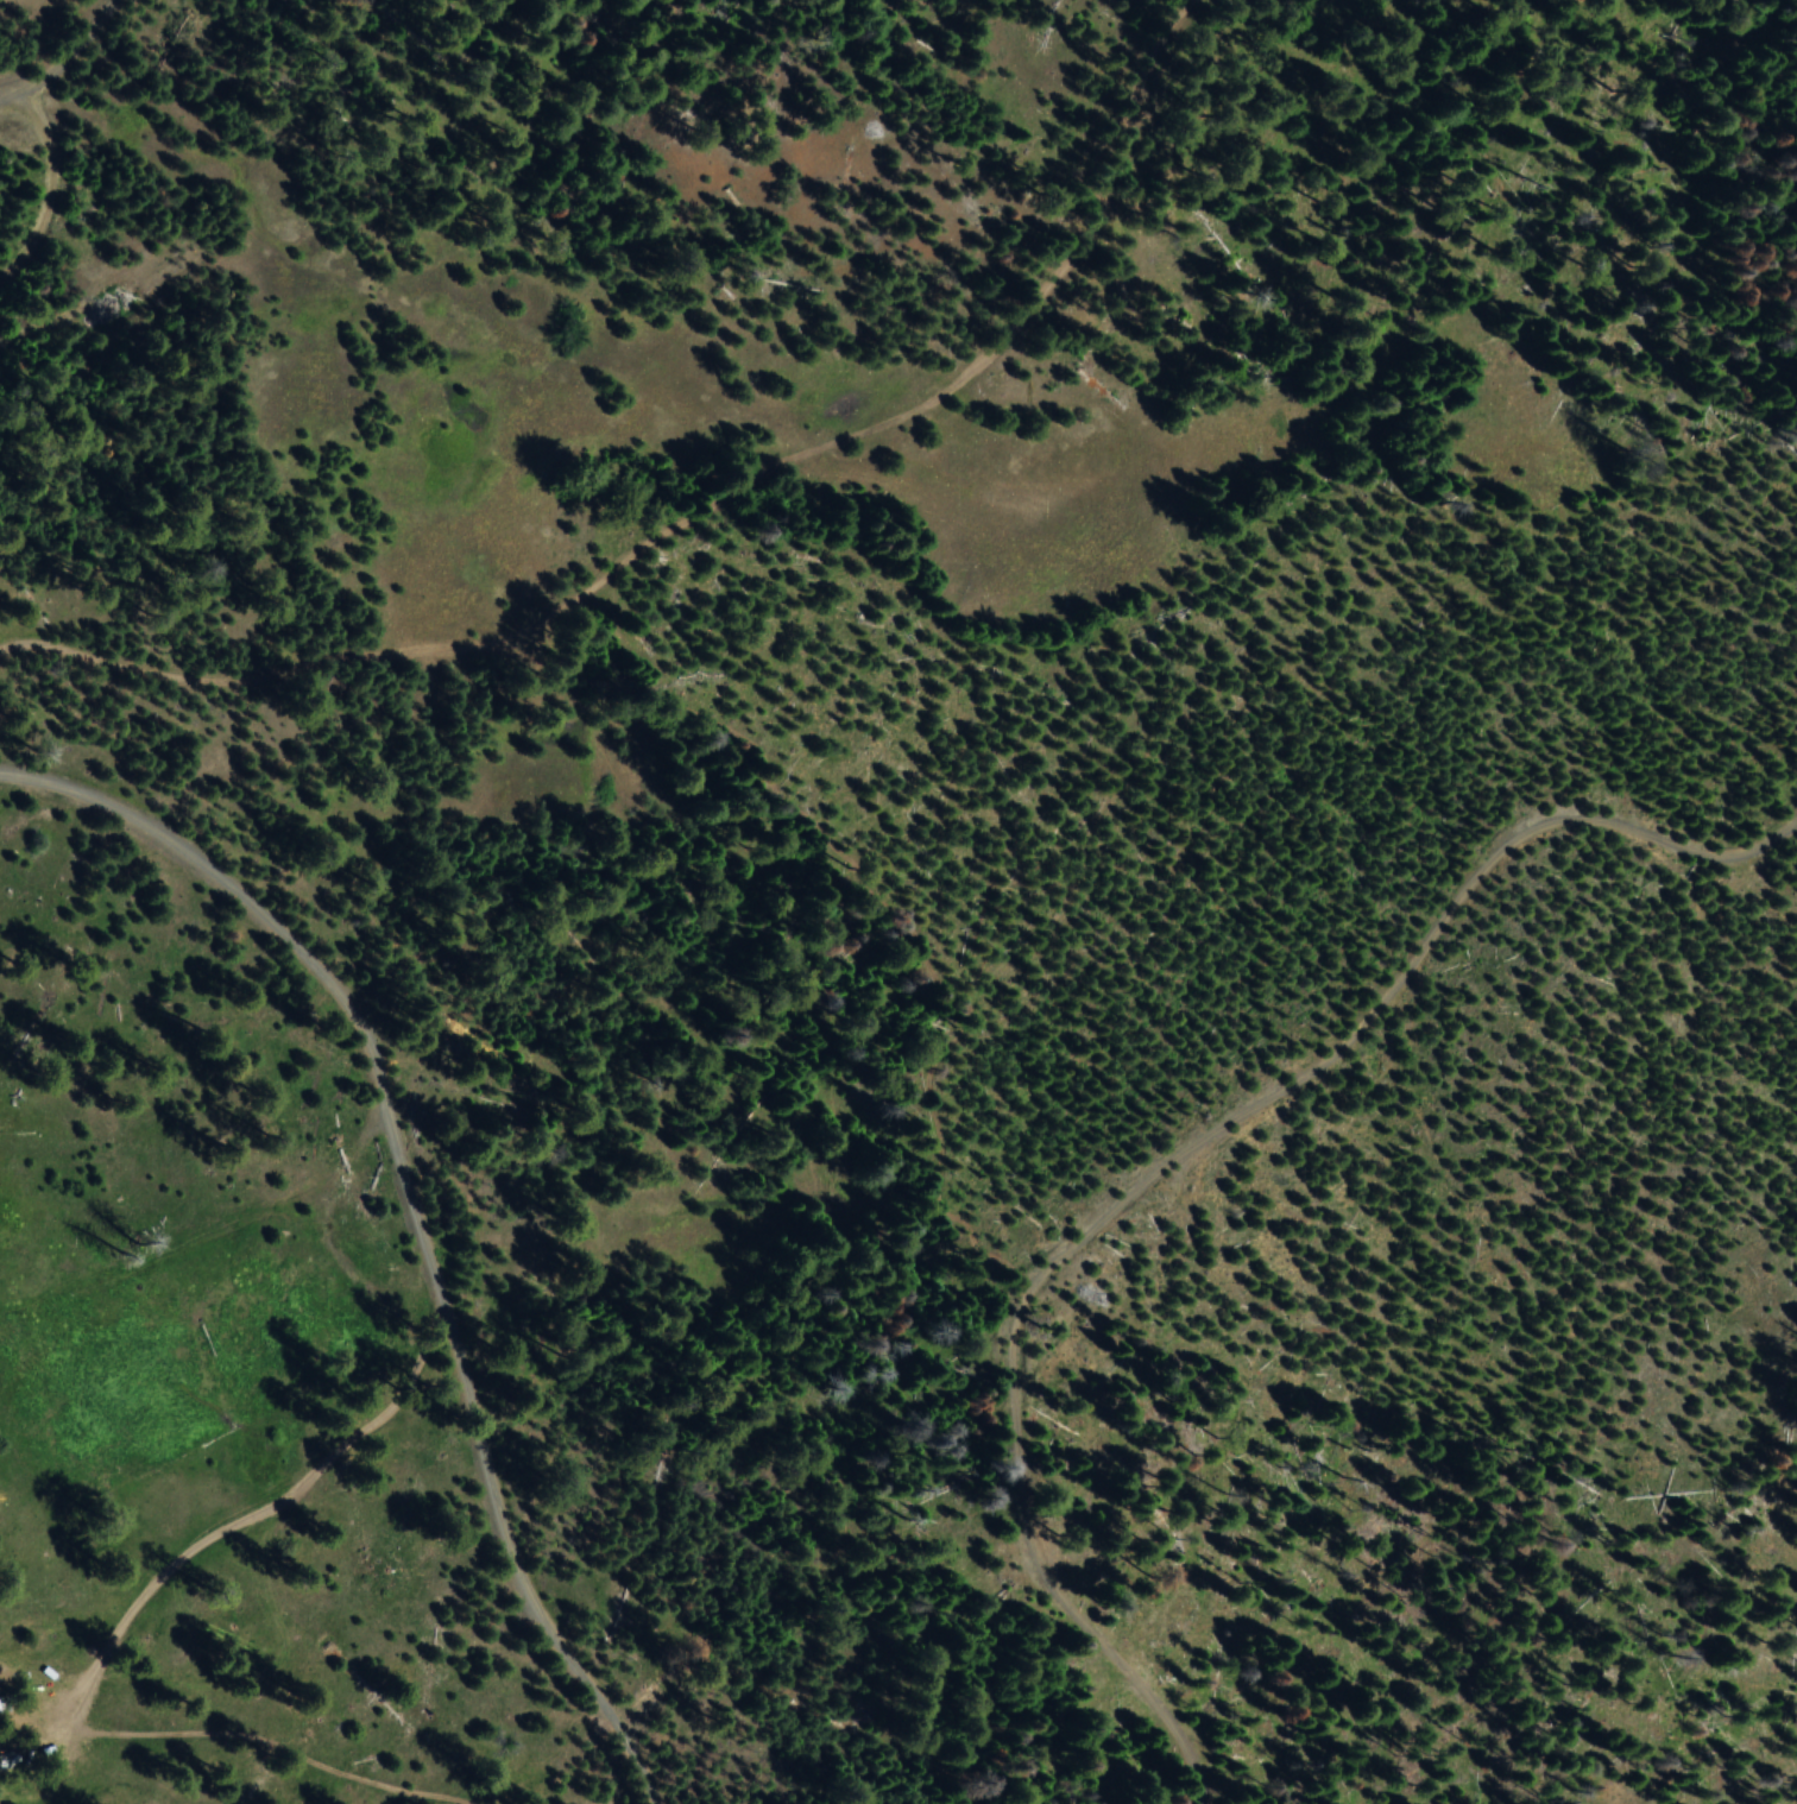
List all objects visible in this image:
road: (53, 51)
road: (700, 511)
road: (1129, 1144)
road: (416, 1212)
road: (216, 1537)

